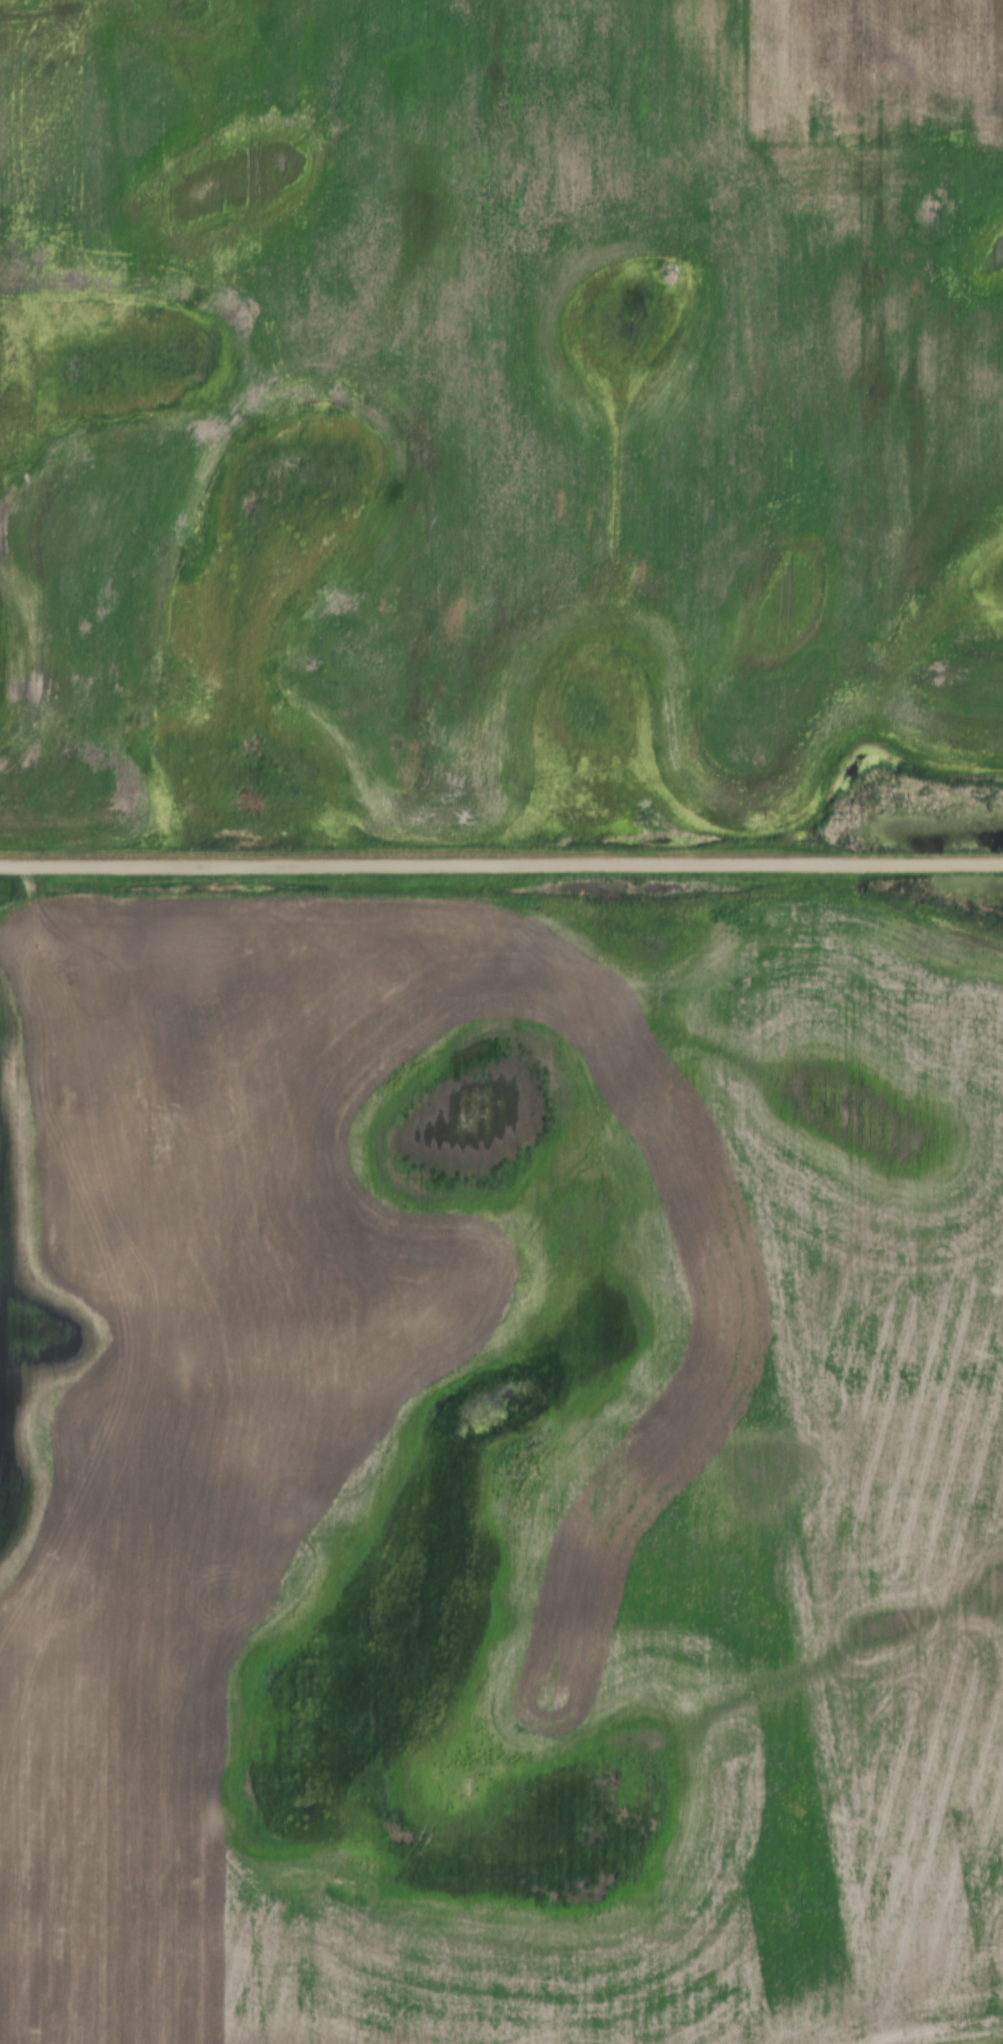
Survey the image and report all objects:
road: (501, 864)

